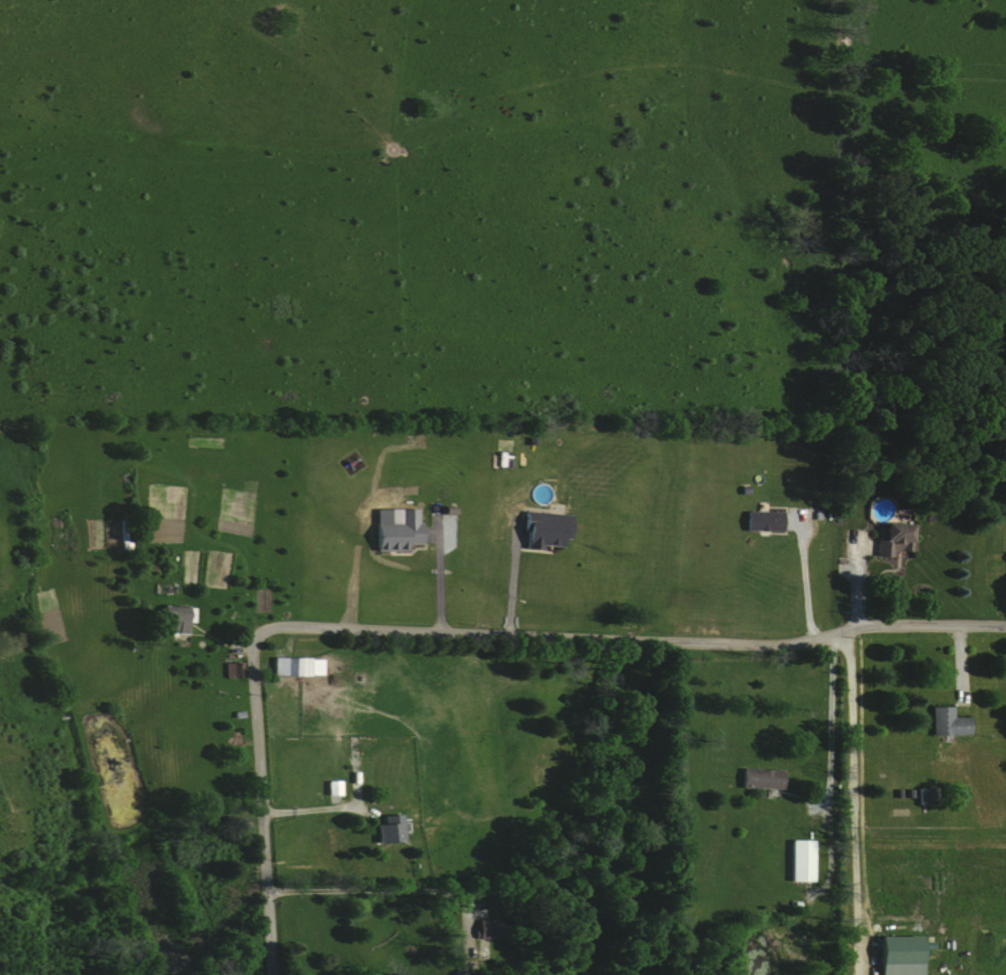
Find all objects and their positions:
building: (762, 521)
building: (395, 529)
building: (544, 529)
building: (892, 540)
road: (437, 574)
road: (512, 577)
road: (804, 579)
building: (173, 618)
road: (460, 633)
building: (296, 666)
building: (232, 669)
building: (946, 722)
road: (828, 724)
building: (761, 779)
building: (333, 788)
building: (923, 796)
road: (852, 802)
road: (319, 809)
building: (389, 829)
building: (800, 861)
road: (386, 888)
building: (485, 929)
building: (897, 955)

